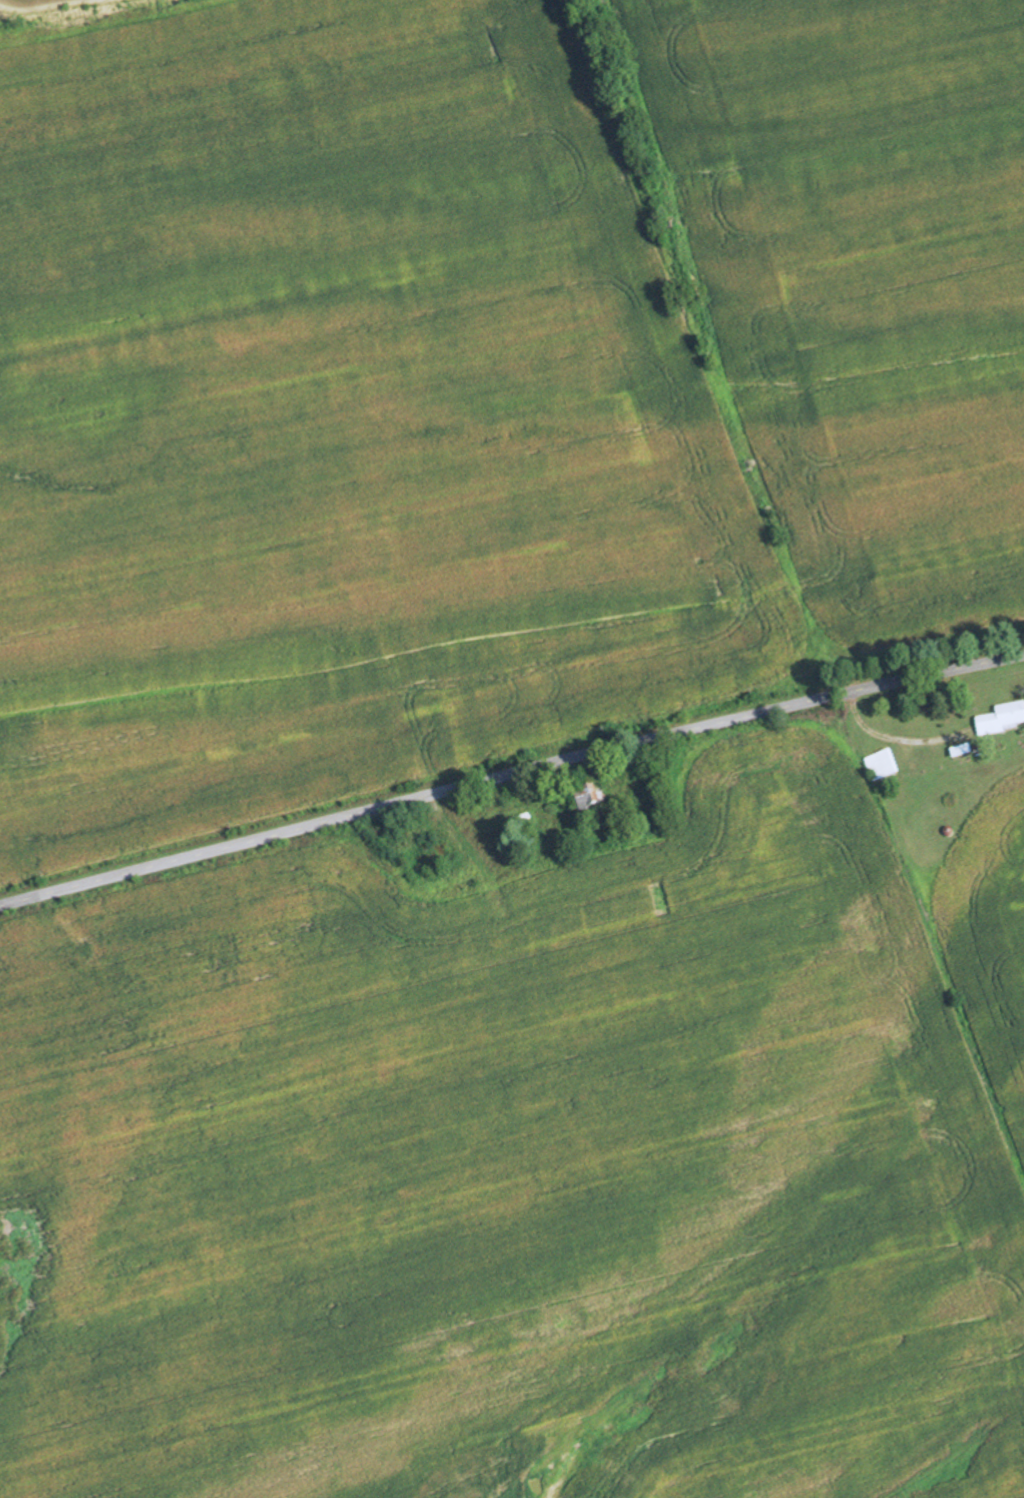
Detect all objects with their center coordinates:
road: (510, 772)

